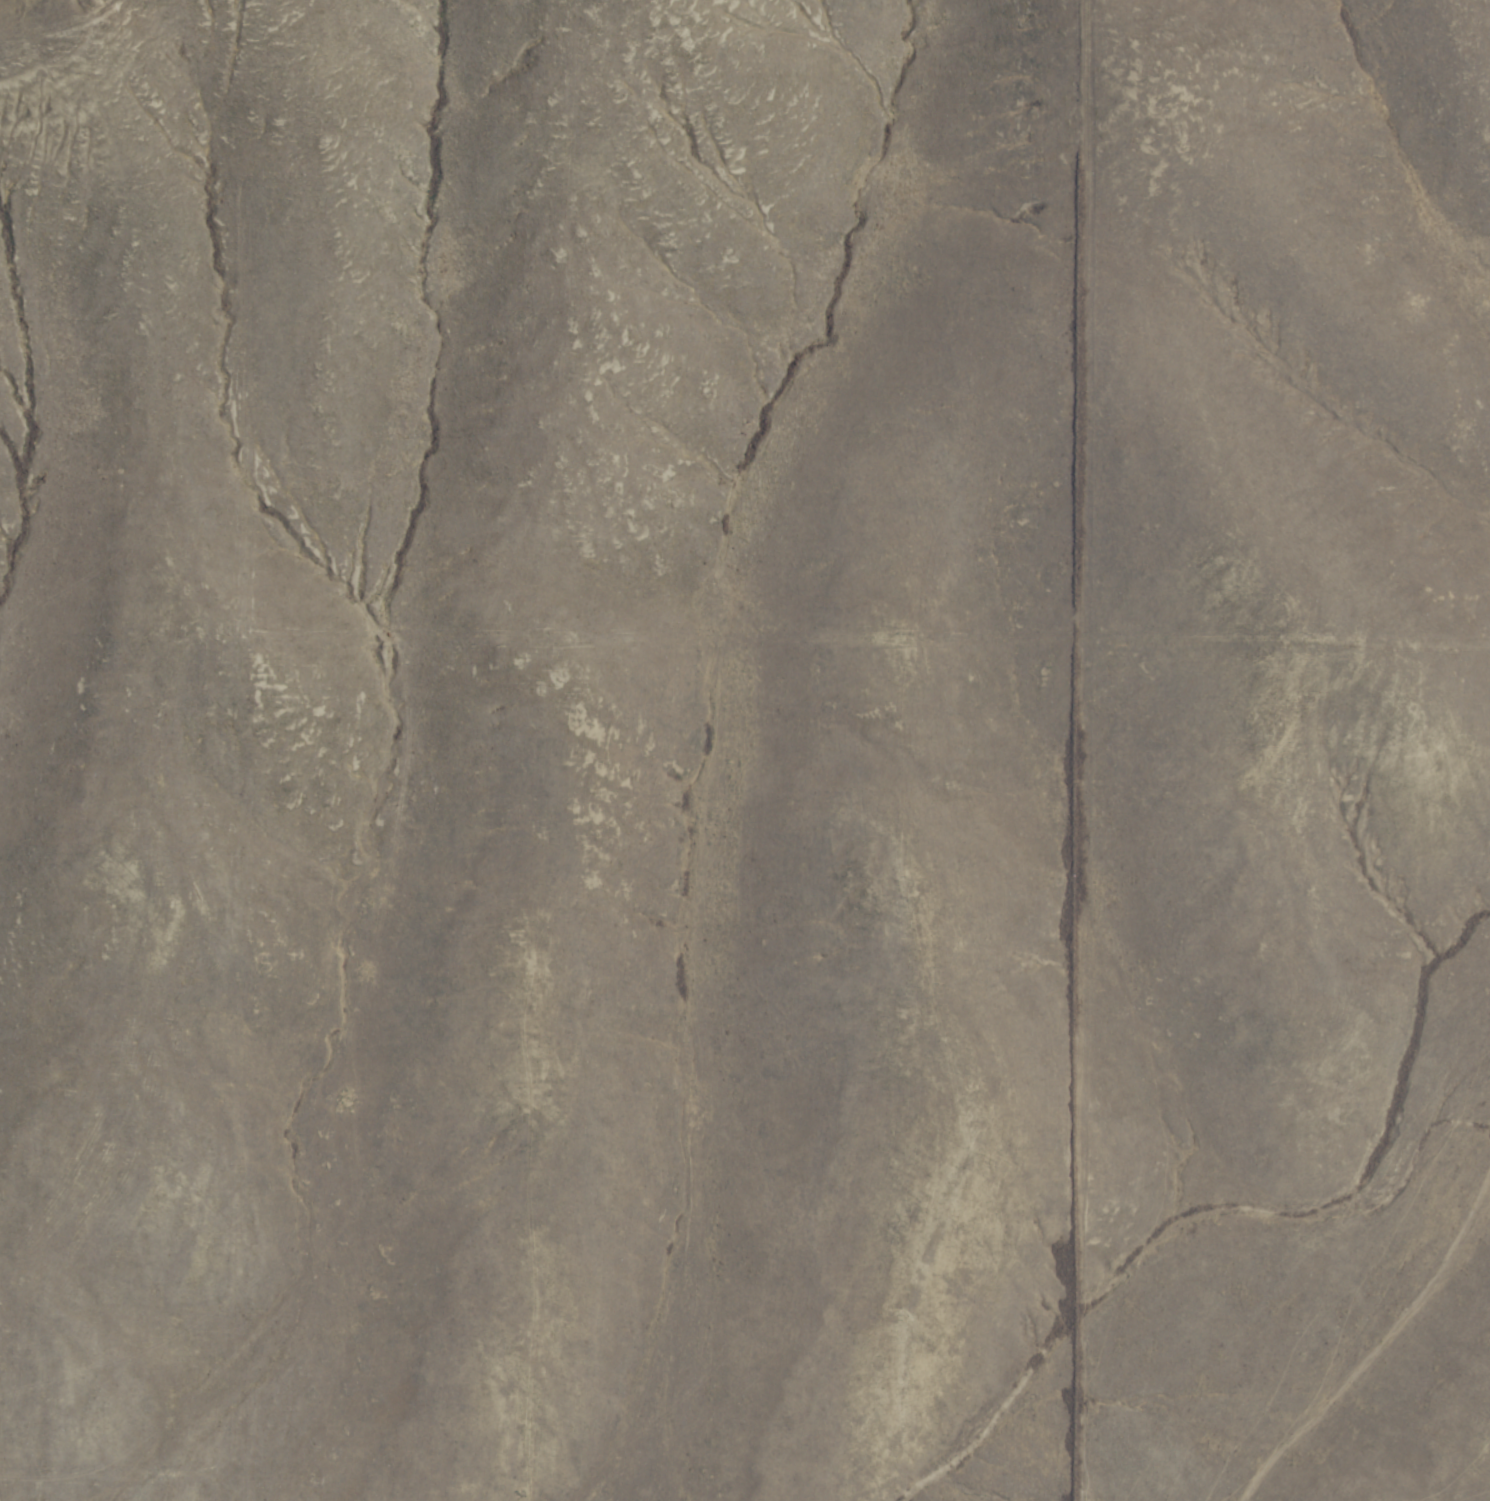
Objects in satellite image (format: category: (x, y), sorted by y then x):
road: (501, 750)

